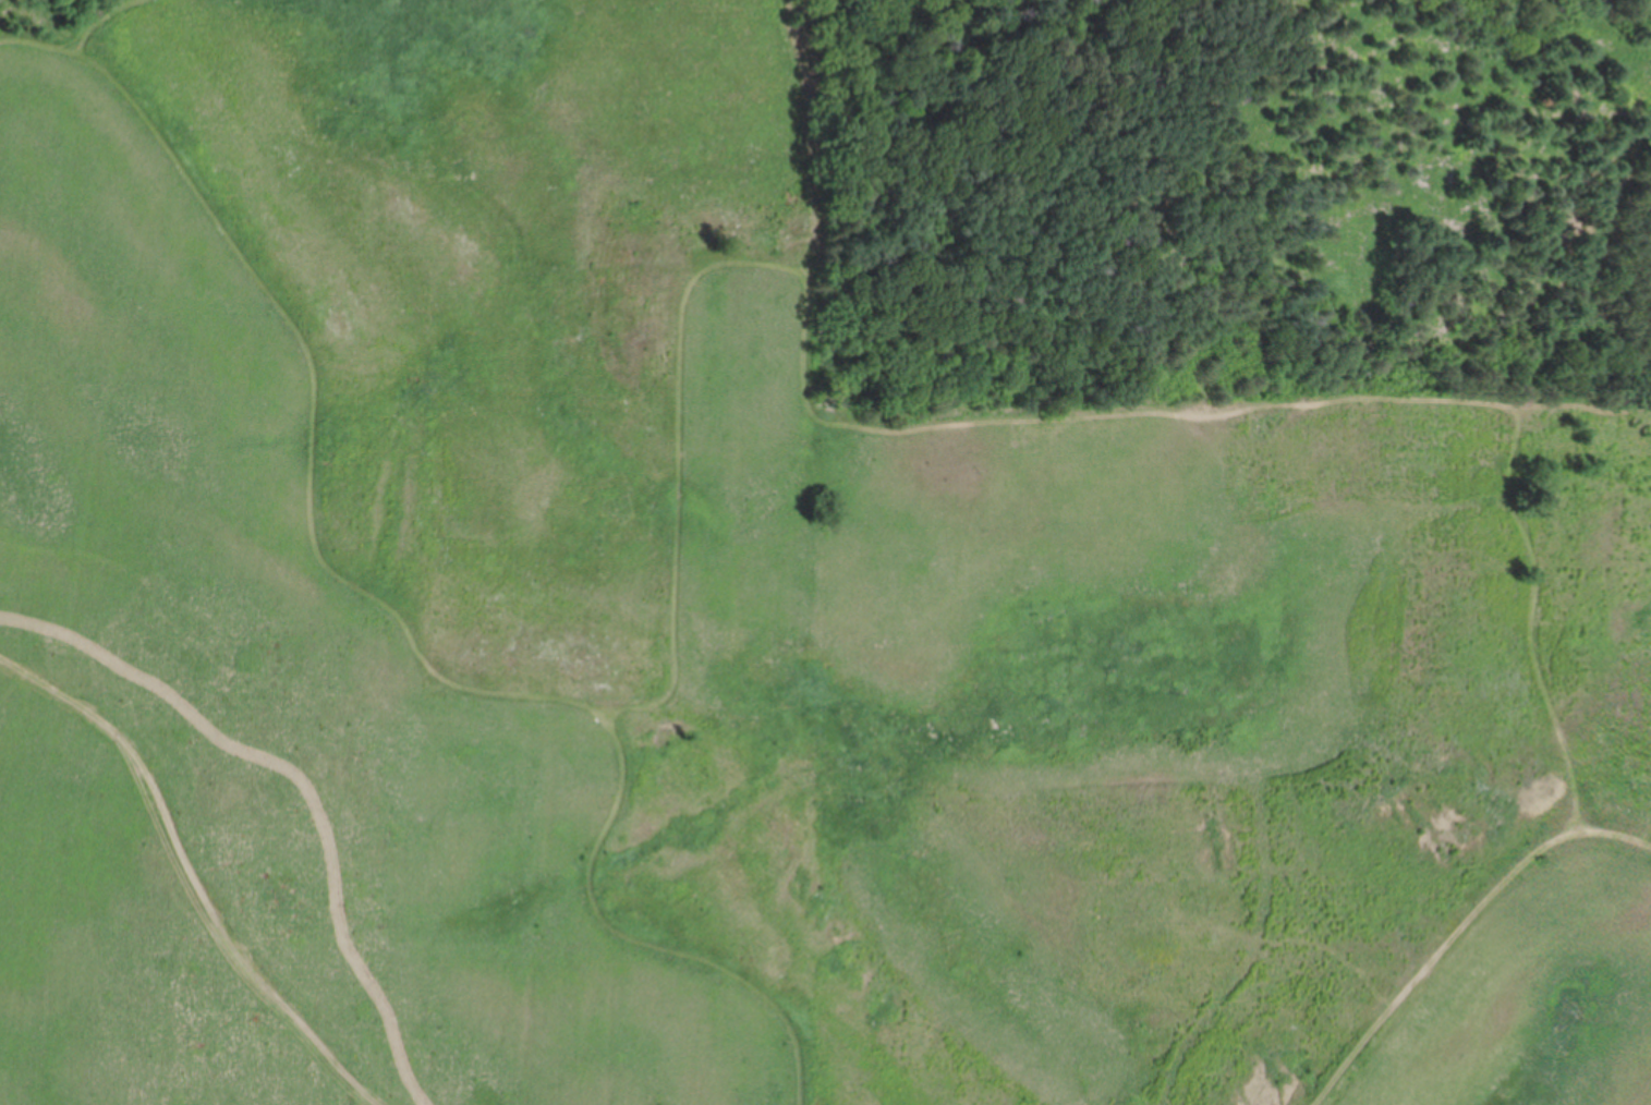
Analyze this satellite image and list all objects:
road: (99, 20)
road: (801, 138)
crop: (1240, 186)
road: (805, 393)
road: (314, 397)
road: (1583, 406)
road: (1531, 620)
road: (1614, 834)
road: (192, 873)
road: (636, 940)
road: (1434, 958)

